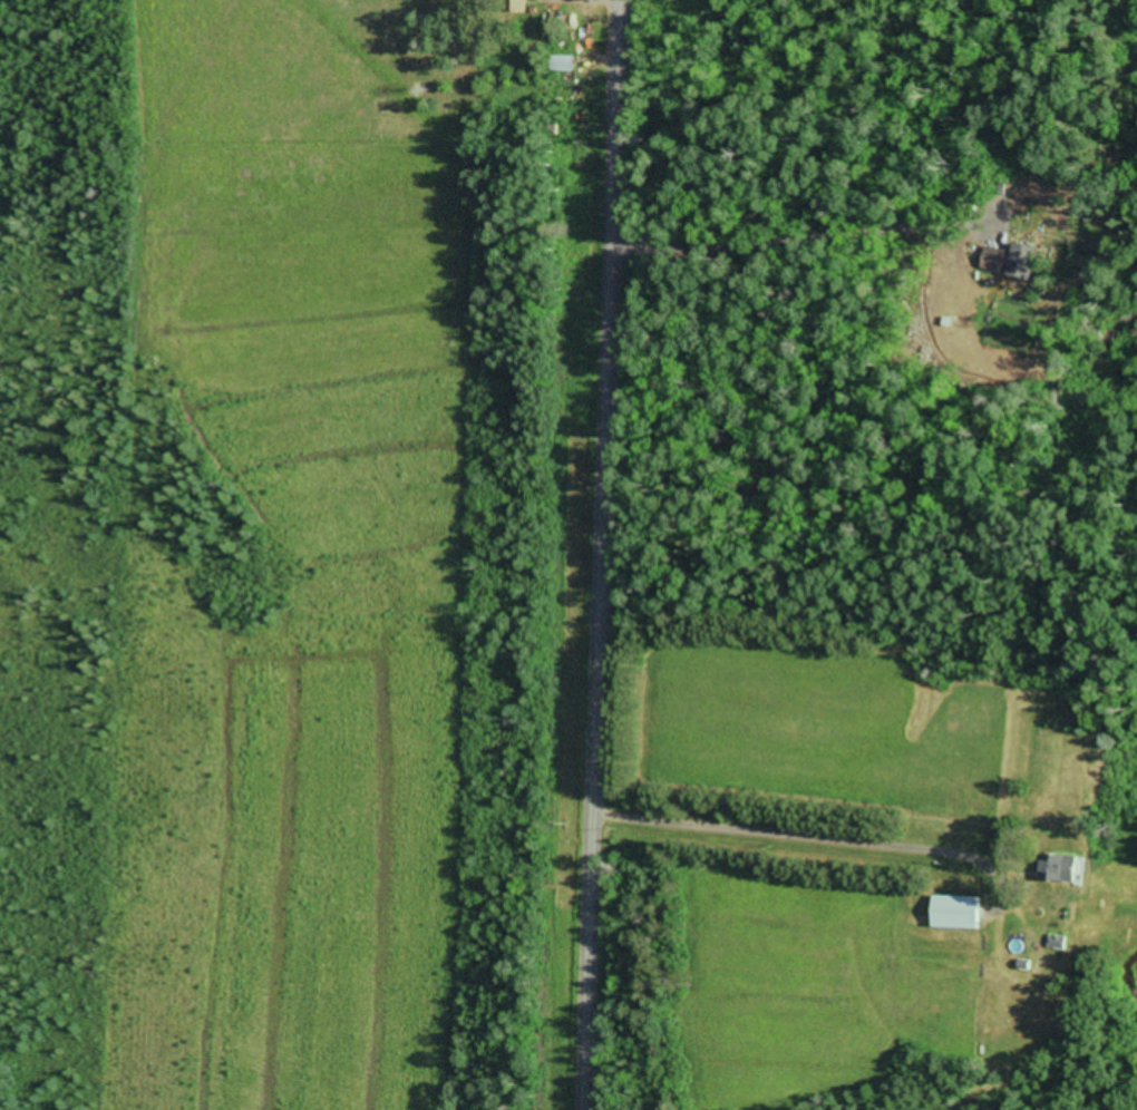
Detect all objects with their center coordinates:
building: (514, 7)
building: (562, 66)
building: (1022, 264)
road: (604, 555)
building: (1058, 869)
building: (955, 914)

